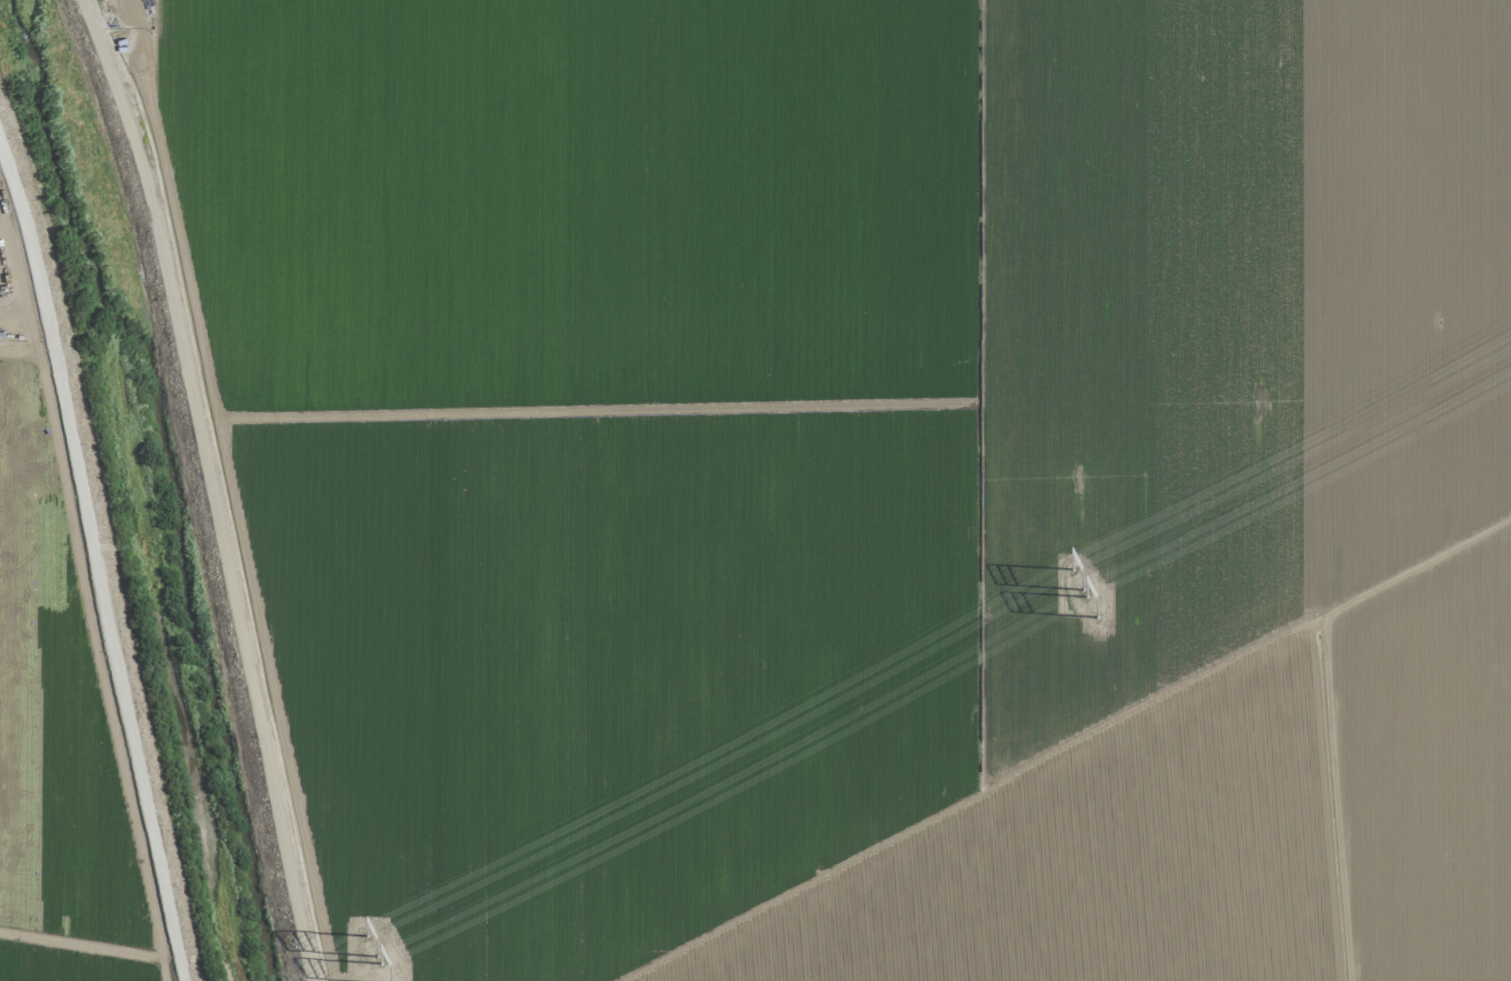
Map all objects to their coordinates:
road: (26, 250)
crop: (856, 476)
power tower: (1078, 571)
power tower: (1093, 597)
crop: (68, 684)
power tower: (370, 943)
power tower: (383, 970)

